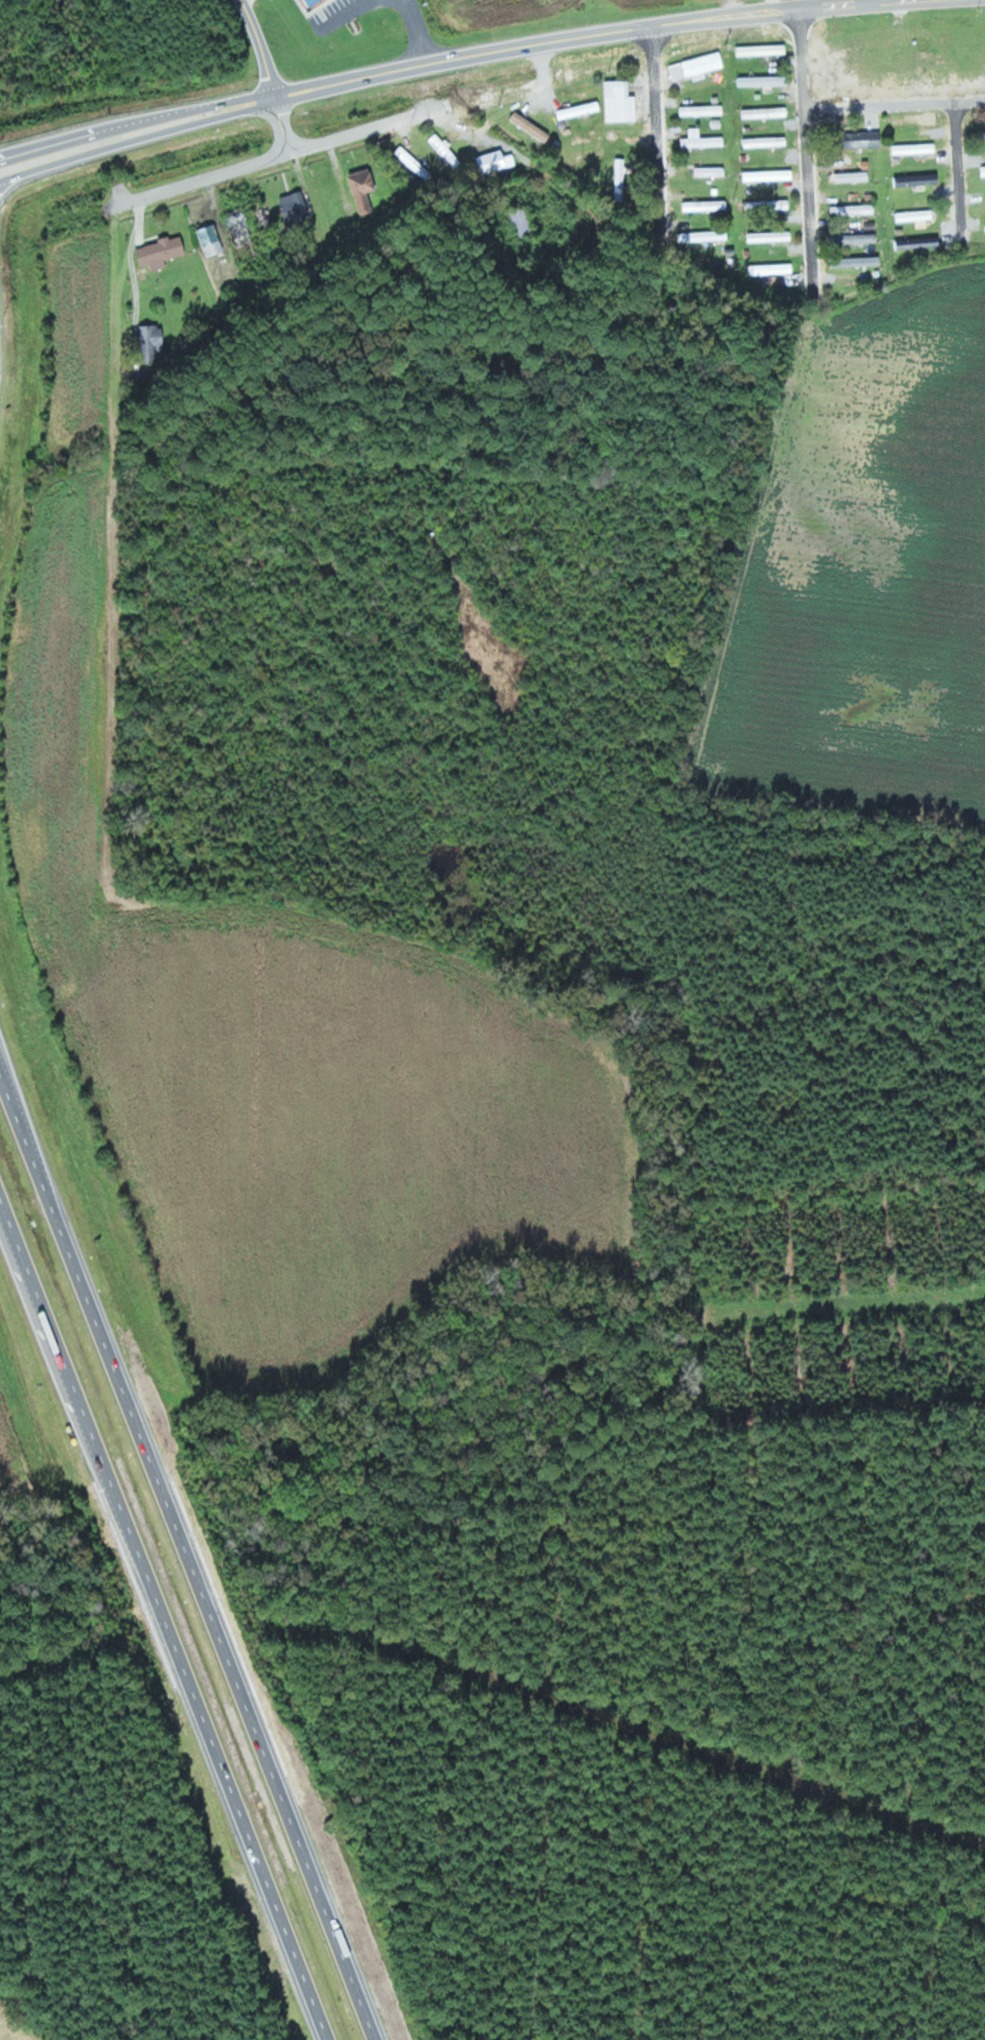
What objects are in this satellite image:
building: (314, 2)
road: (876, 2)
road: (349, 13)
road: (738, 14)
road: (416, 32)
road: (262, 48)
building: (764, 50)
building: (698, 66)
road: (413, 67)
building: (766, 81)
building: (622, 102)
road: (894, 104)
building: (581, 110)
building: (704, 110)
road: (657, 112)
building: (766, 112)
road: (285, 125)
building: (532, 126)
road: (138, 132)
building: (982, 135)
building: (867, 139)
building: (703, 140)
building: (766, 142)
road: (806, 146)
building: (917, 148)
road: (277, 157)
building: (496, 161)
road: (962, 161)
building: (415, 163)
building: (712, 171)
building: (984, 171)
building: (769, 175)
building: (853, 176)
building: (619, 179)
building: (918, 180)
building: (366, 188)
building: (707, 205)
building: (768, 205)
building: (294, 208)
building: (854, 209)
building: (917, 215)
building: (238, 220)
building: (520, 222)
building: (705, 236)
building: (856, 238)
building: (212, 240)
building: (916, 242)
building: (163, 252)
building: (861, 261)
building: (774, 269)
building: (154, 337)
road: (689, 1339)
road: (192, 1555)
road: (161, 1623)

